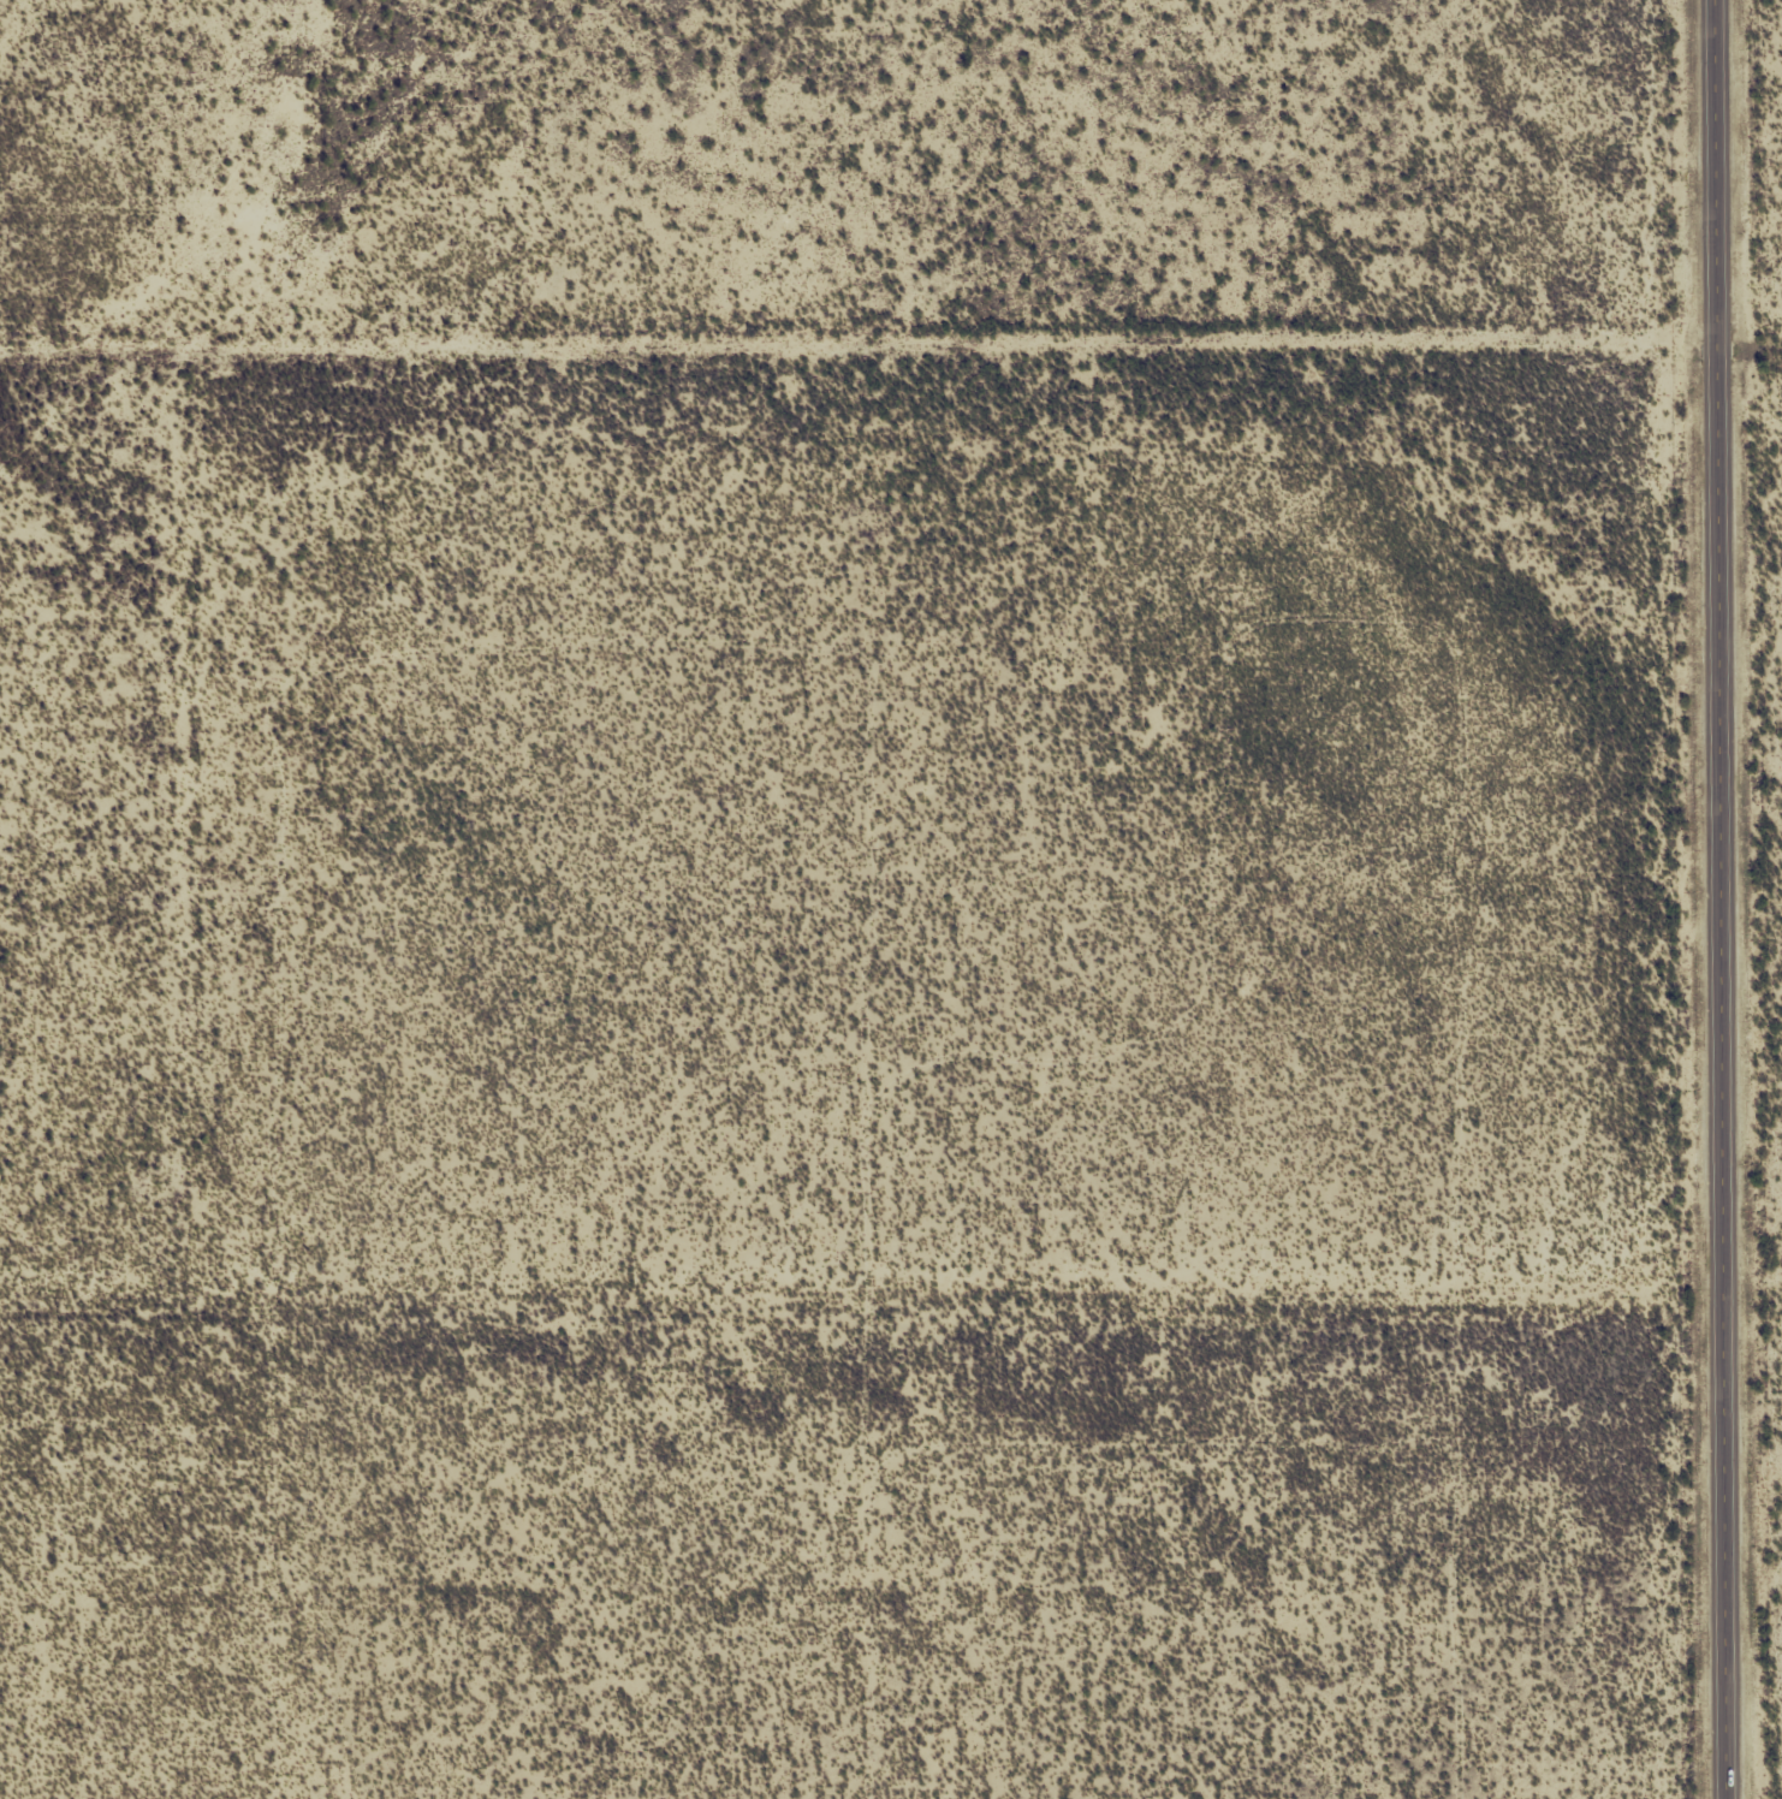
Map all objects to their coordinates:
road: (1722, 900)

